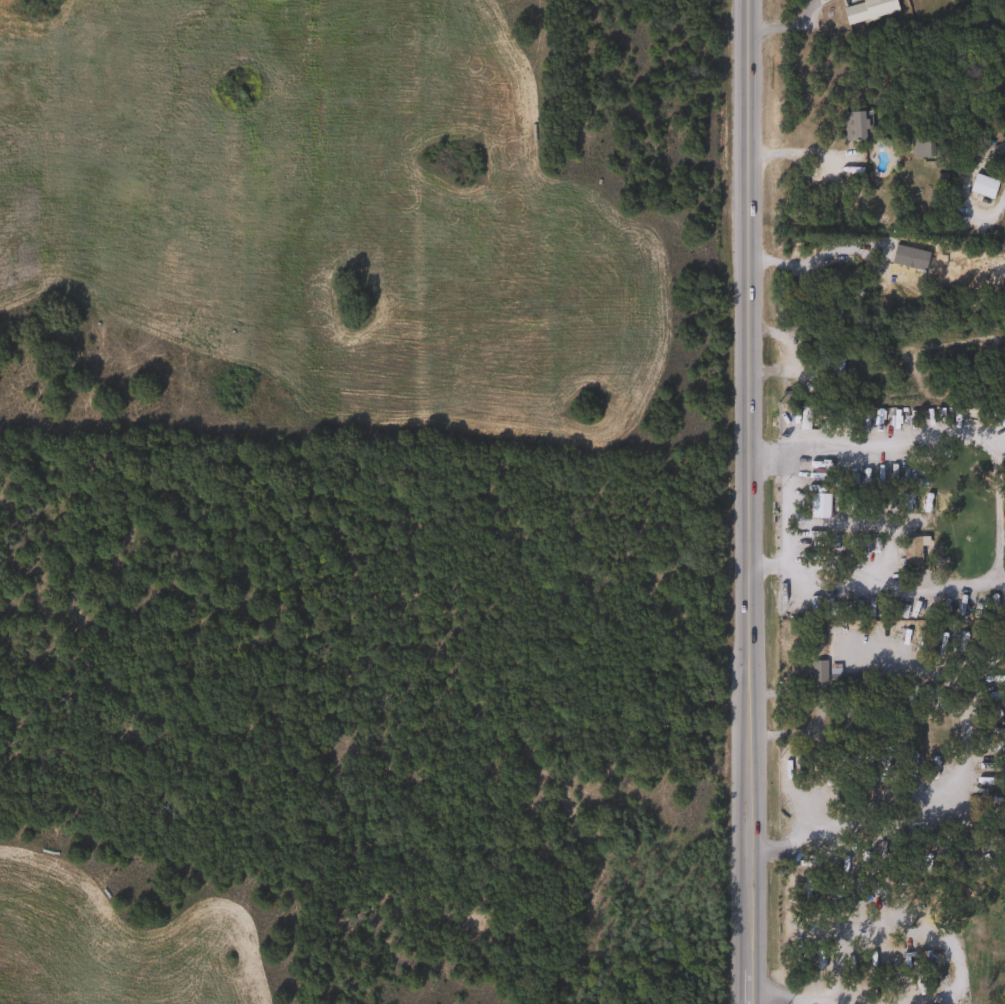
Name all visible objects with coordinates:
building: (866, 9)
road: (782, 25)
building: (1004, 61)
building: (1004, 107)
building: (855, 125)
building: (918, 146)
road: (786, 155)
building: (981, 185)
road: (805, 268)
road: (741, 347)
building: (984, 418)
road: (996, 439)
building: (818, 470)
building: (909, 554)
road: (816, 569)
building: (825, 674)
road: (819, 709)
road: (747, 717)
road: (944, 790)
road: (749, 872)
building: (870, 962)
road: (957, 973)

